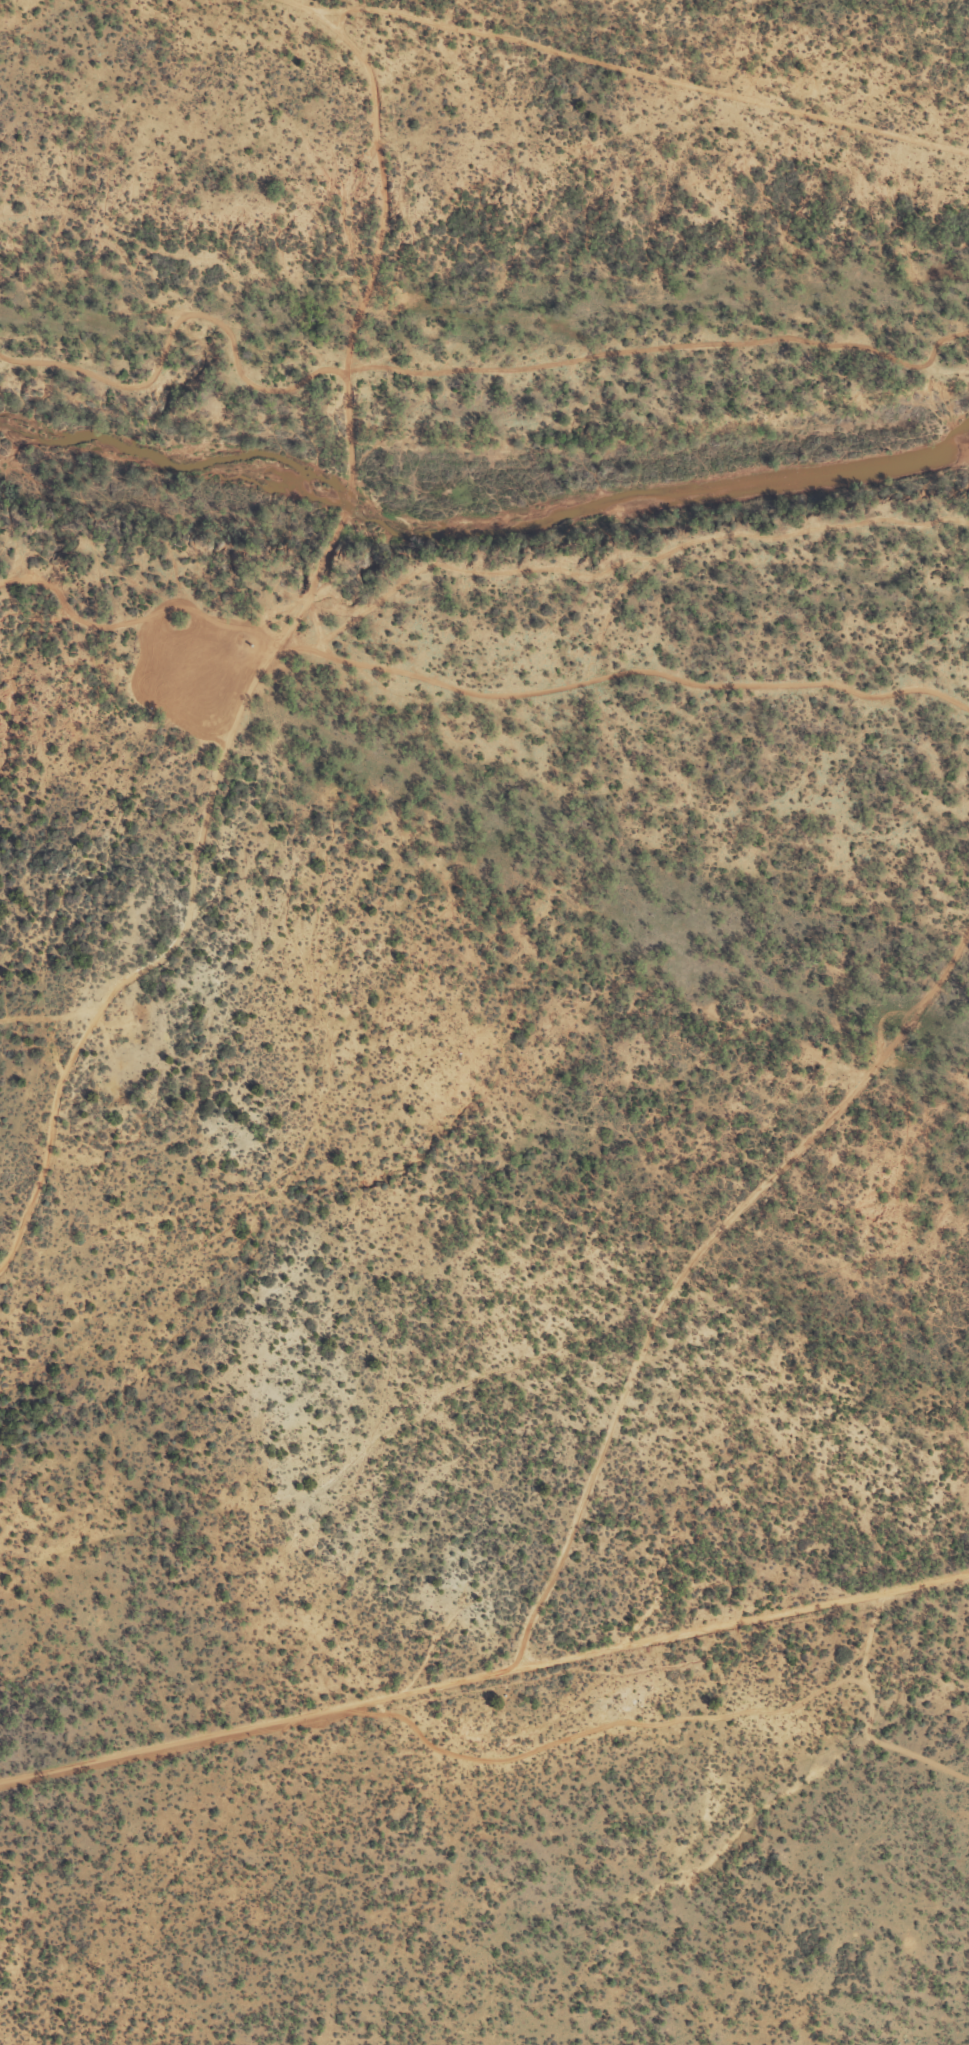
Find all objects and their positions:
river: (486, 516)
road: (36, 1303)
road: (481, 1435)

